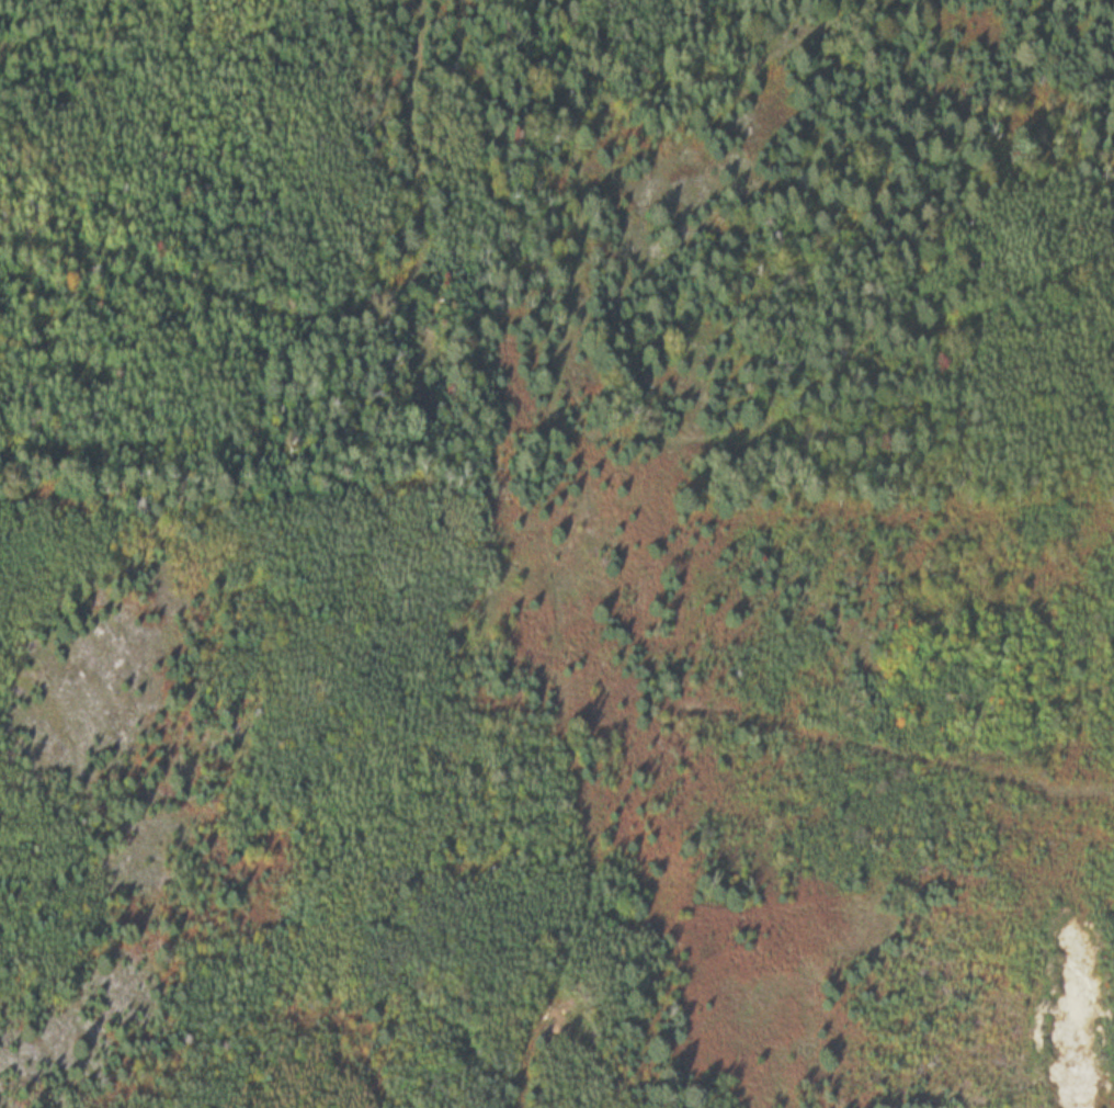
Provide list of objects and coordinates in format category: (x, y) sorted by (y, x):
quarry: (1104, 1066)

